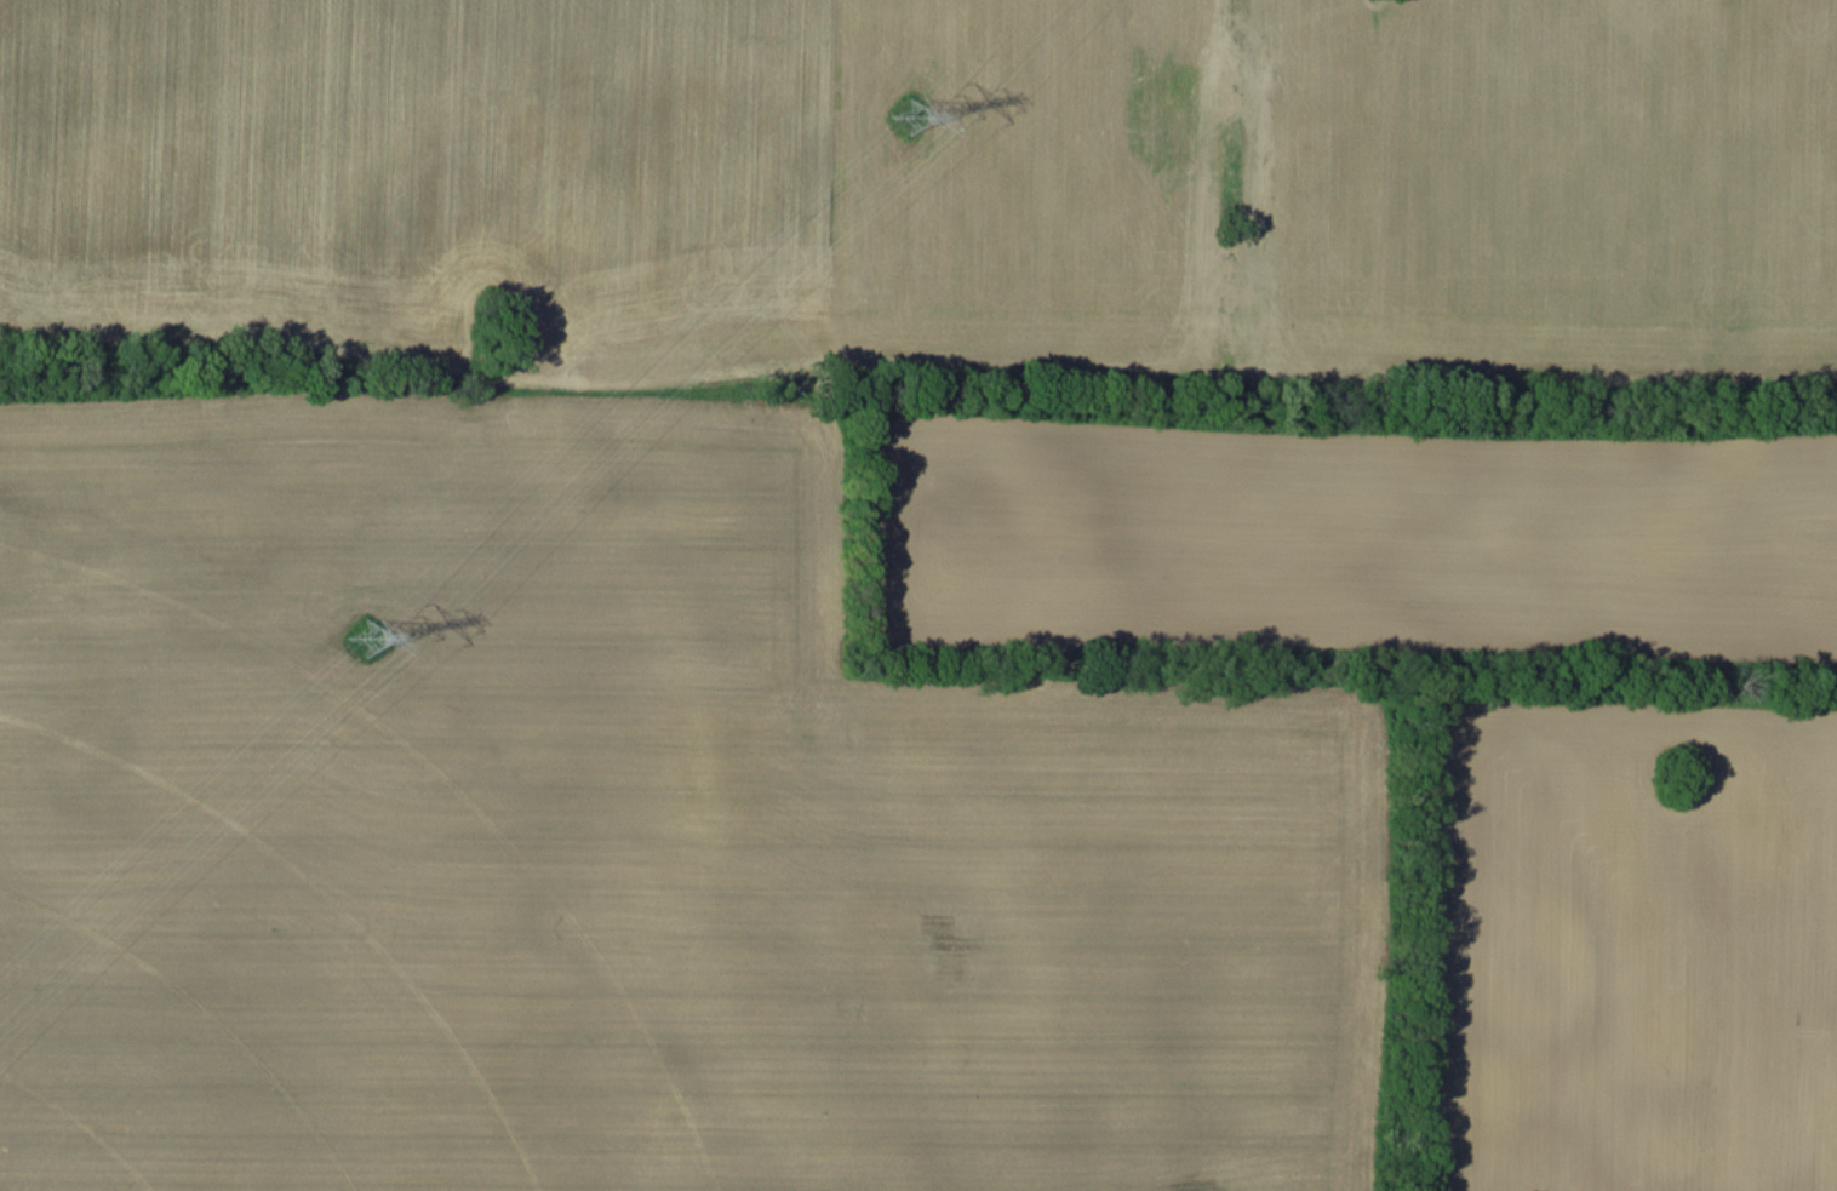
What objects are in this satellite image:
power tower: (914, 114)
power tower: (373, 639)

